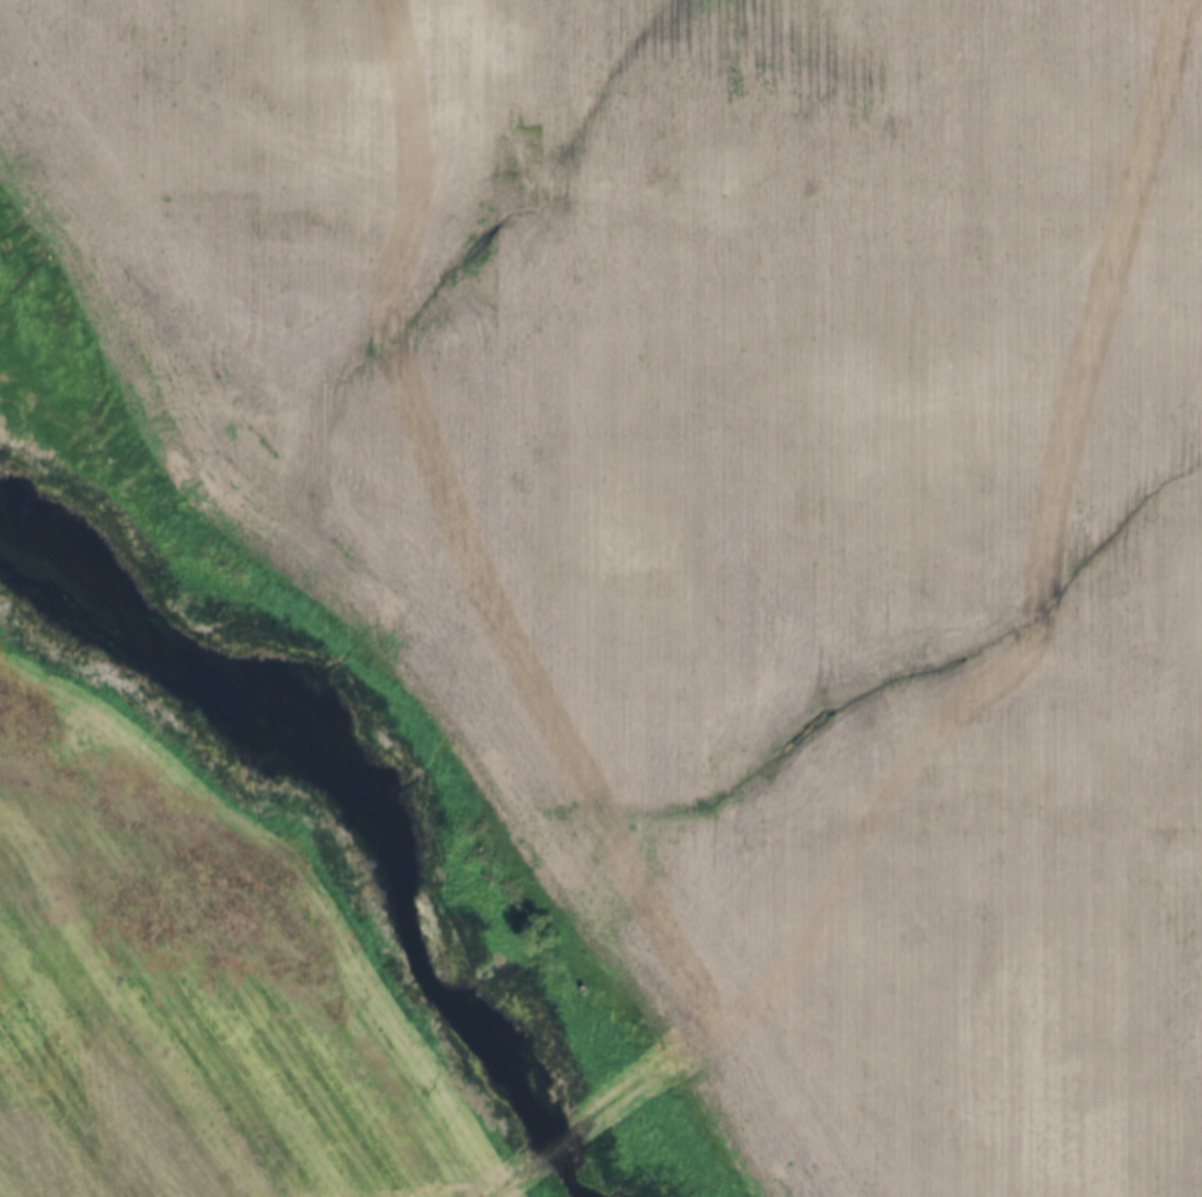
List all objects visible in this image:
river: (365, 810)

